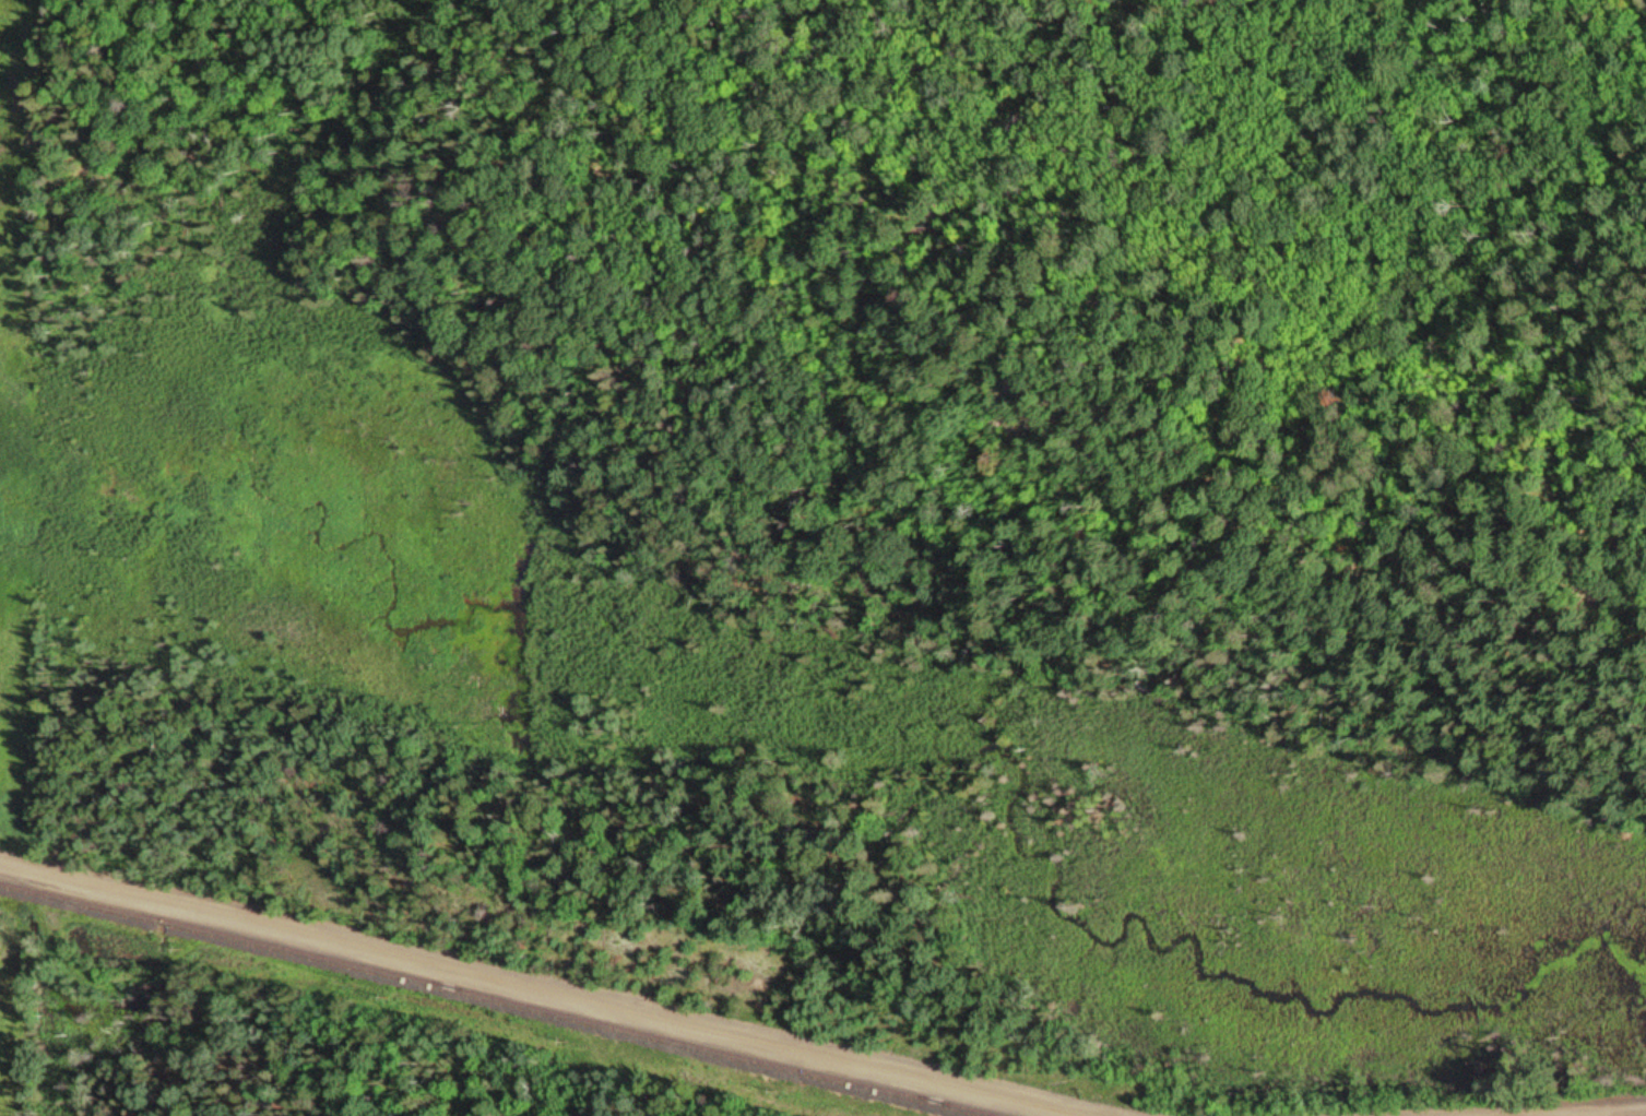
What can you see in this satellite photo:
road: (390, 998)

